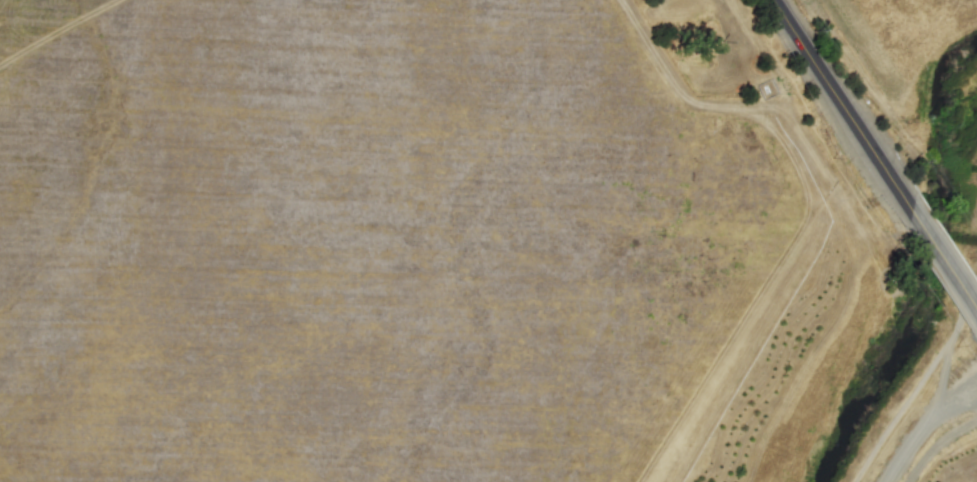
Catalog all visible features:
road: (842, 101)
crop: (486, 239)
road: (944, 253)
road: (953, 346)
road: (924, 425)

